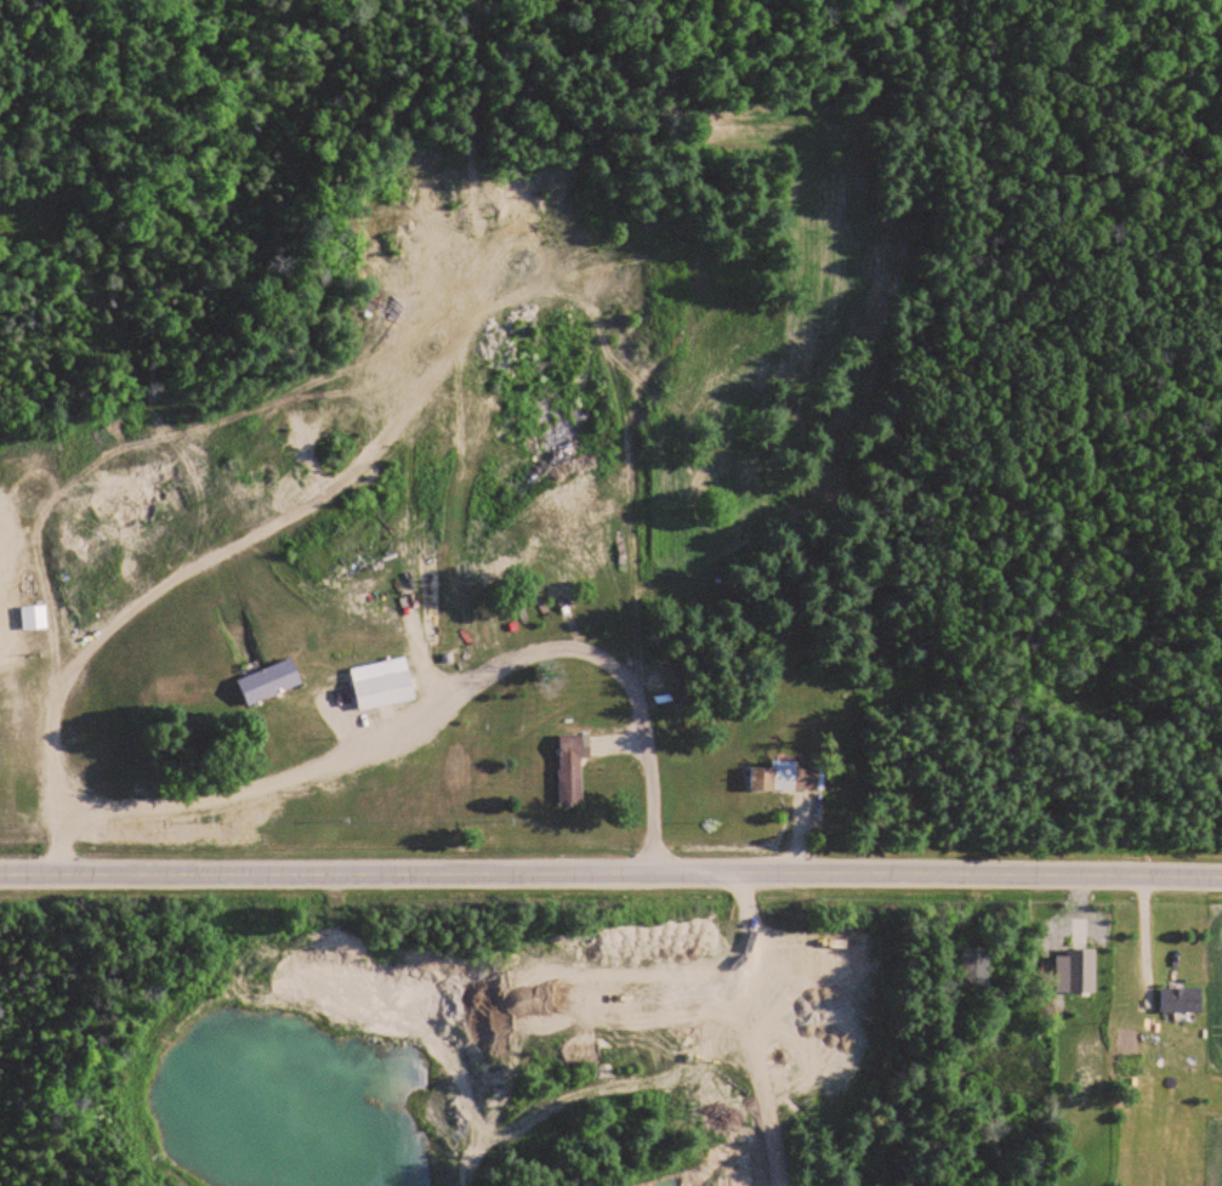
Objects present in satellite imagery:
building: (32, 617)
building: (268, 681)
building: (383, 691)
building: (570, 770)
building: (786, 777)
road: (610, 868)
building: (974, 965)
building: (1180, 1000)

